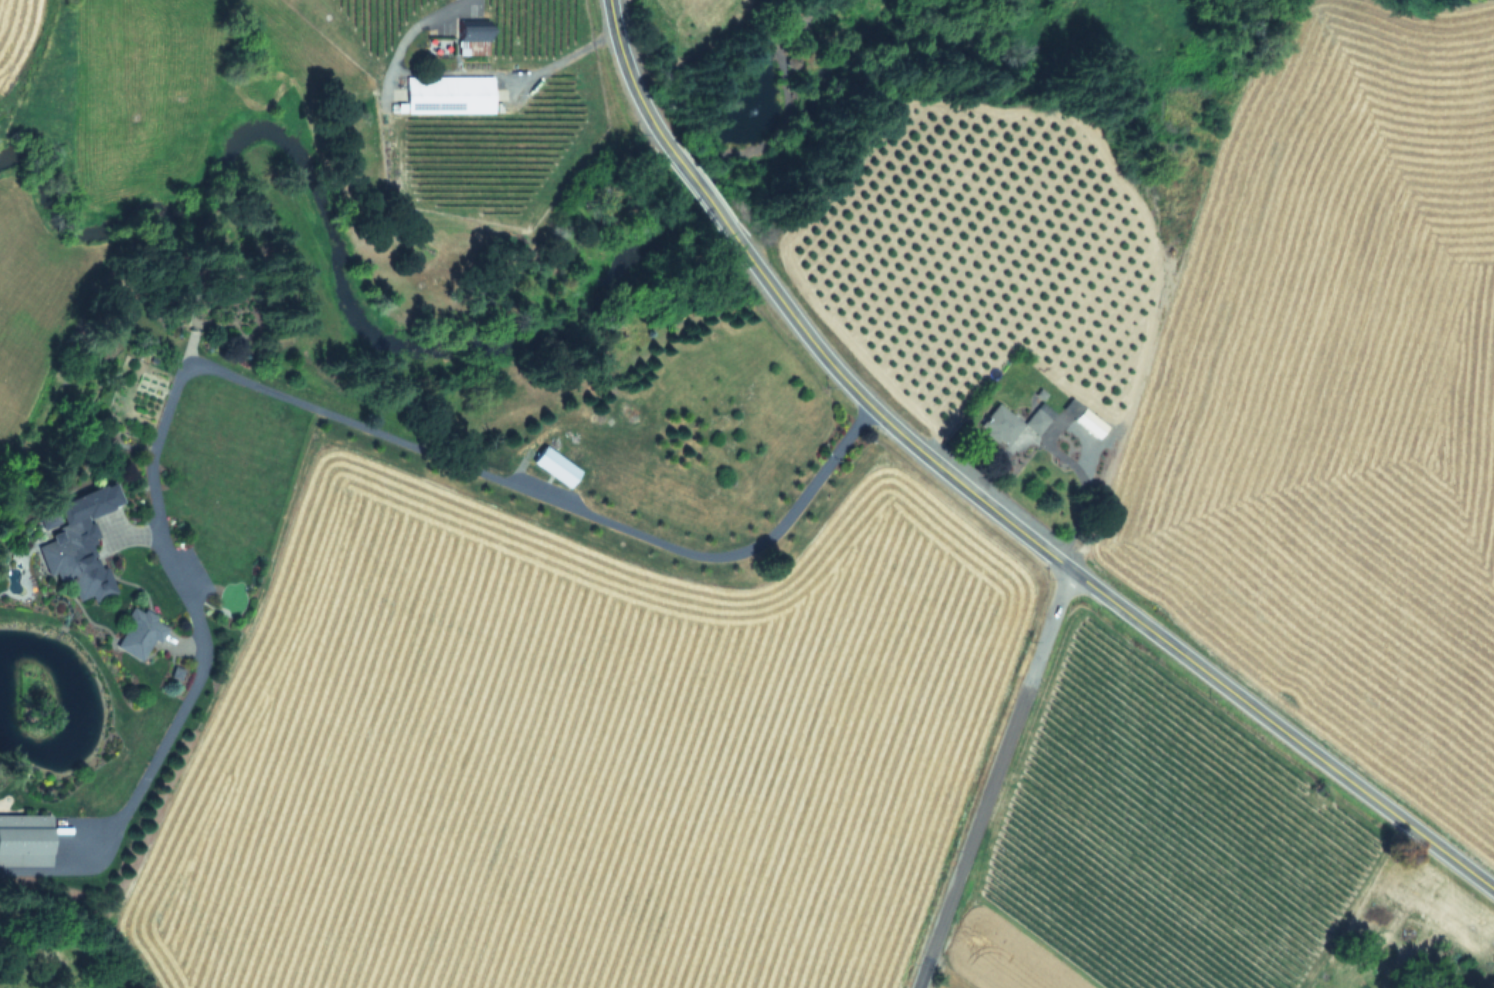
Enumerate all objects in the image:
crop: (7, 7)
building: (472, 38)
road: (592, 40)
road: (433, 71)
road: (628, 75)
building: (449, 93)
road: (700, 194)
river: (473, 329)
crop: (1234, 356)
building: (1072, 406)
building: (1038, 417)
building: (1089, 422)
building: (999, 424)
road: (1071, 460)
building: (554, 465)
road: (471, 469)
building: (76, 541)
road: (1094, 588)
building: (139, 633)
road: (191, 685)
road: (991, 778)
building: (23, 839)

